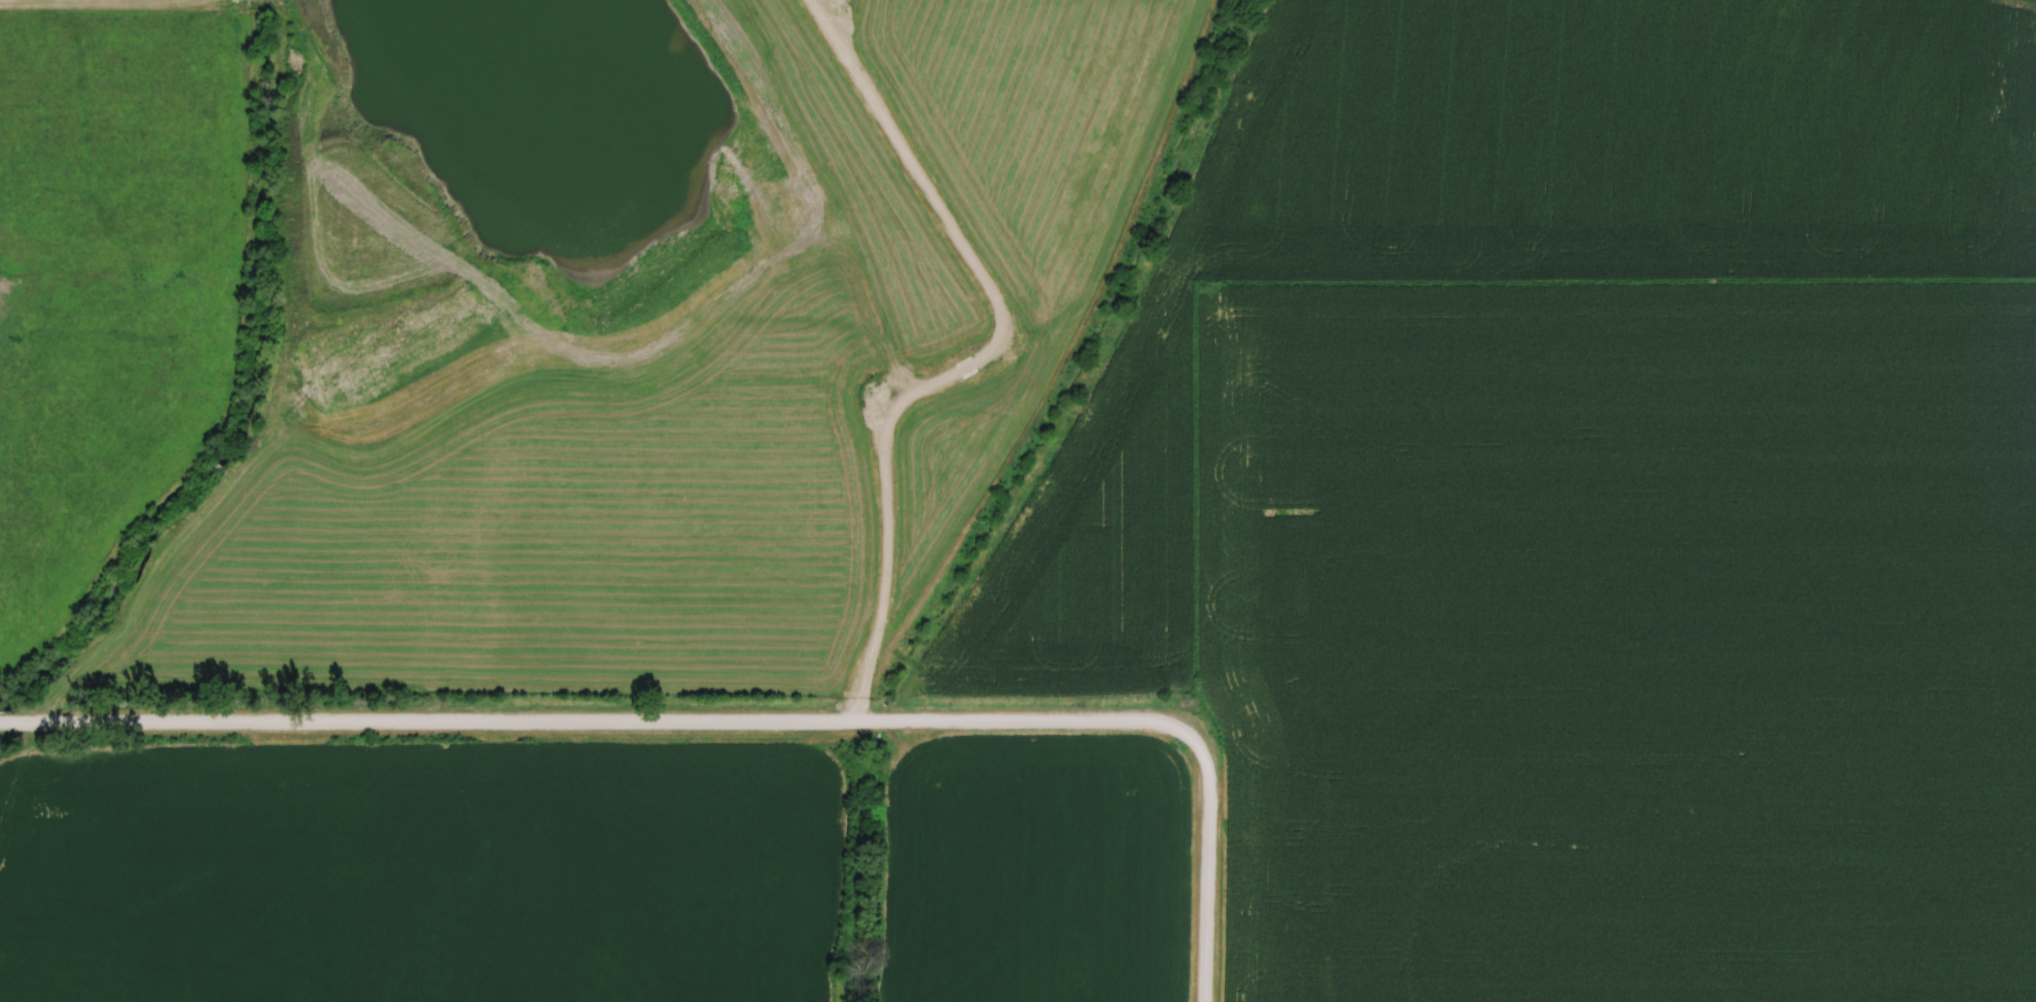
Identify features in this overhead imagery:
road: (733, 722)

